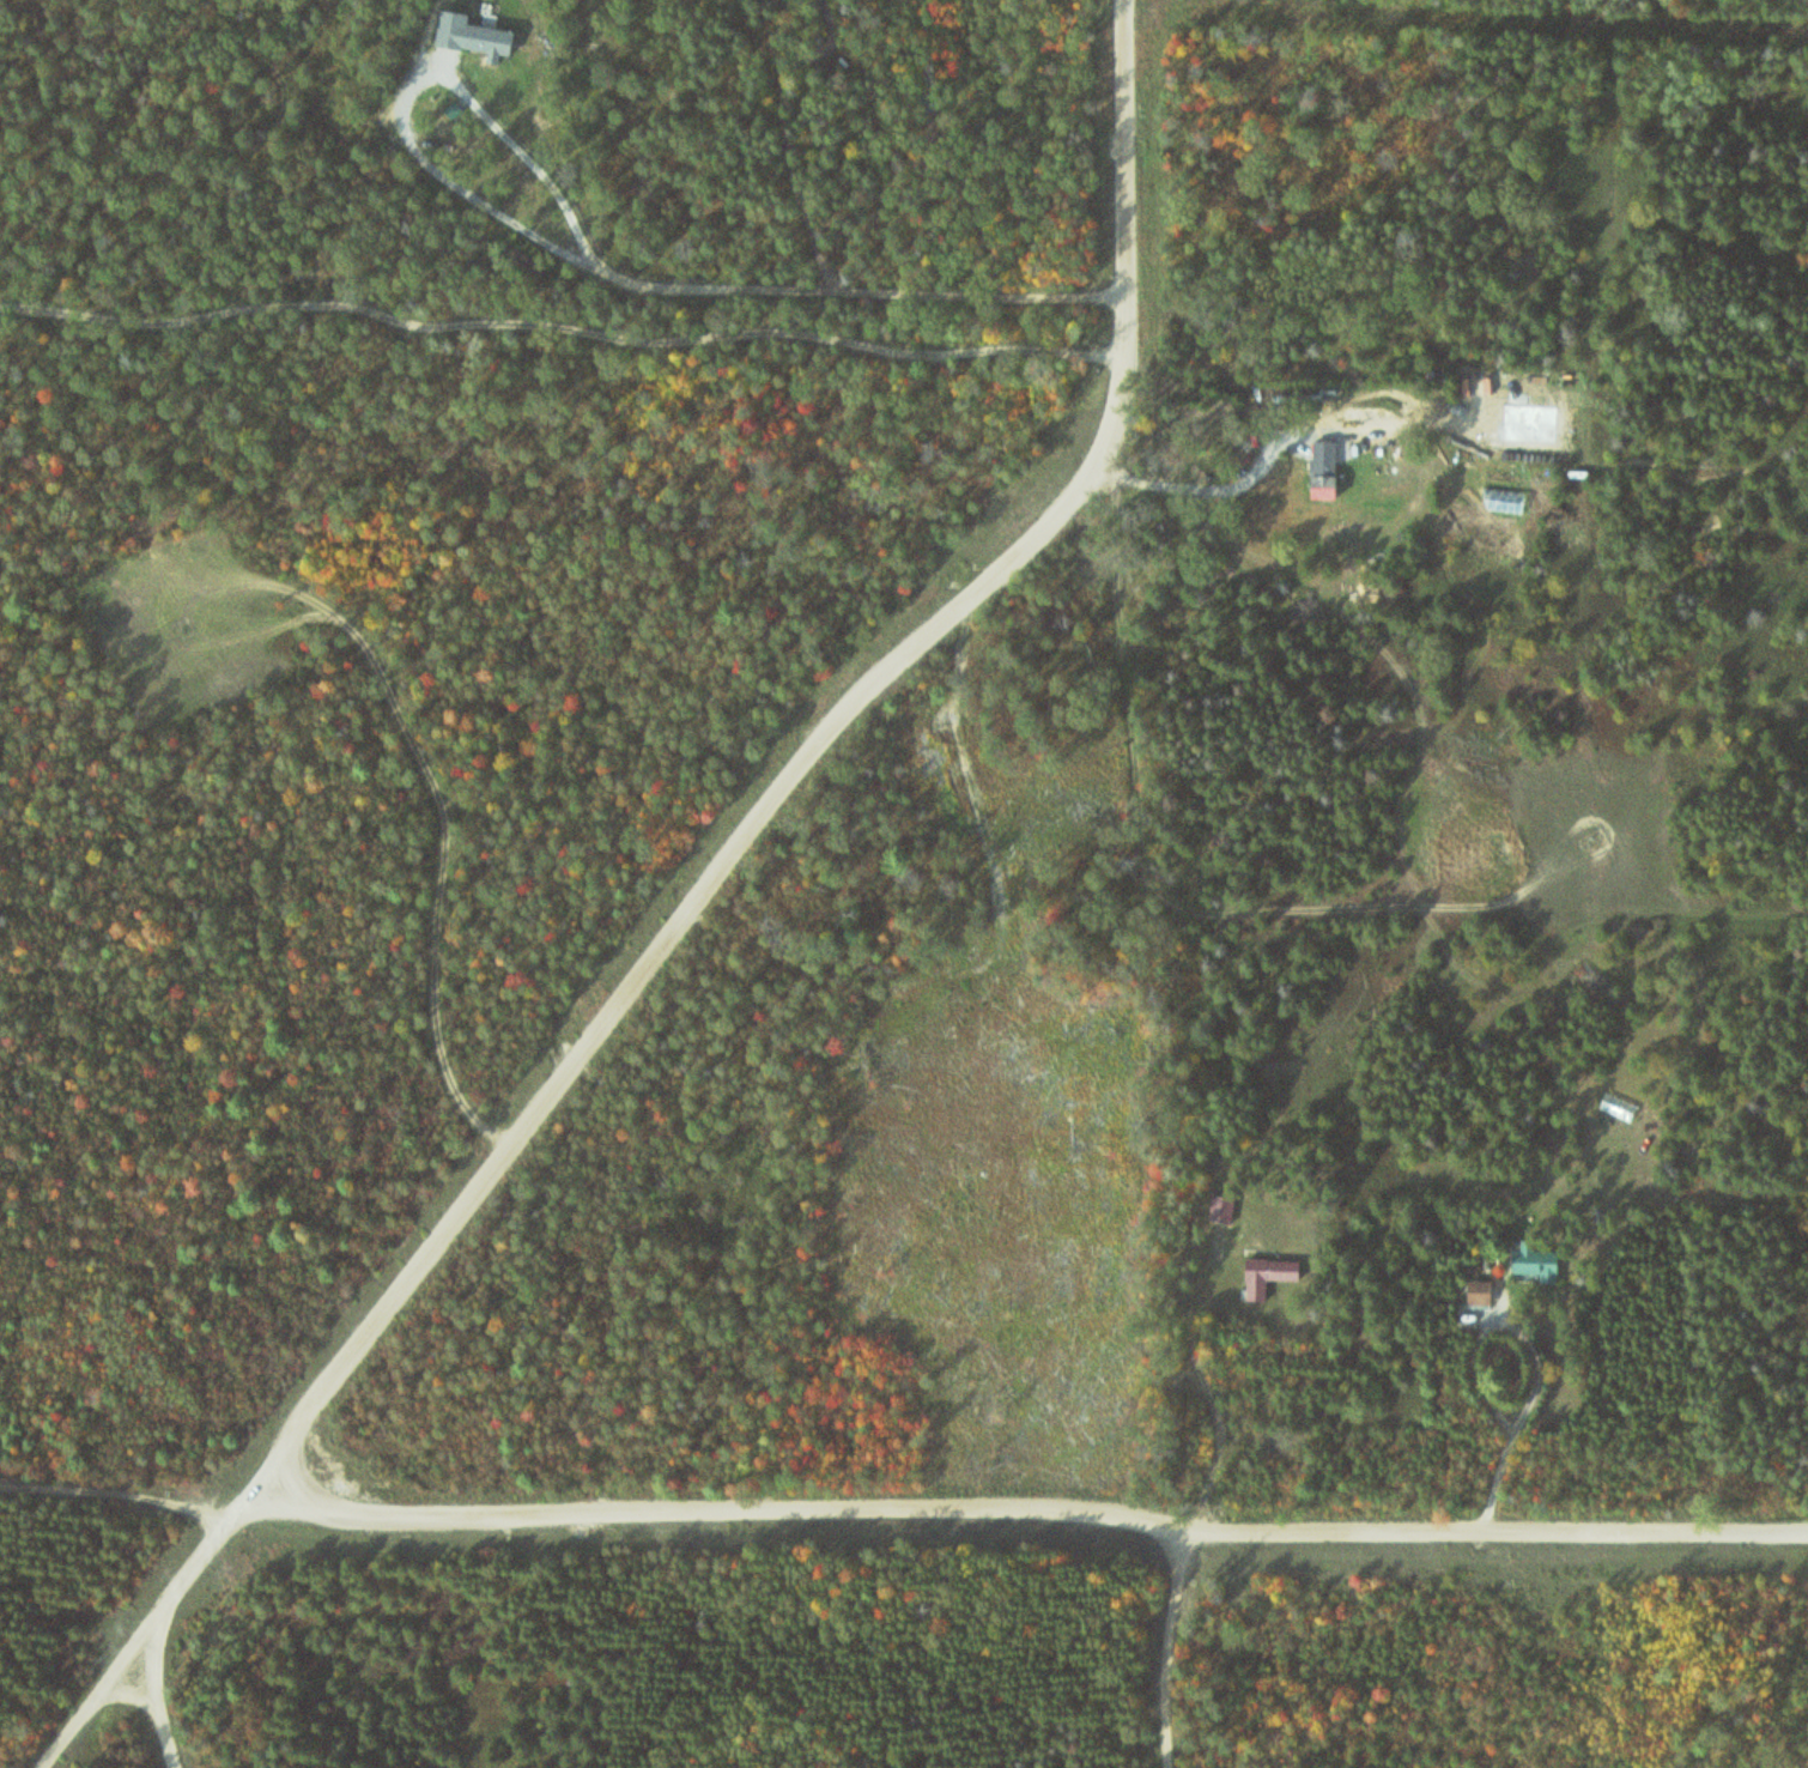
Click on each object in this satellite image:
building: (491, 41)
road: (785, 293)
road: (563, 320)
building: (1328, 470)
road: (791, 780)
road: (445, 873)
road: (1233, 912)
building: (1227, 1210)
building: (1541, 1264)
building: (1276, 1277)
building: (1485, 1291)
road: (127, 1504)
road: (1030, 1526)
road: (156, 1639)
road: (1189, 1649)
road: (168, 1708)

